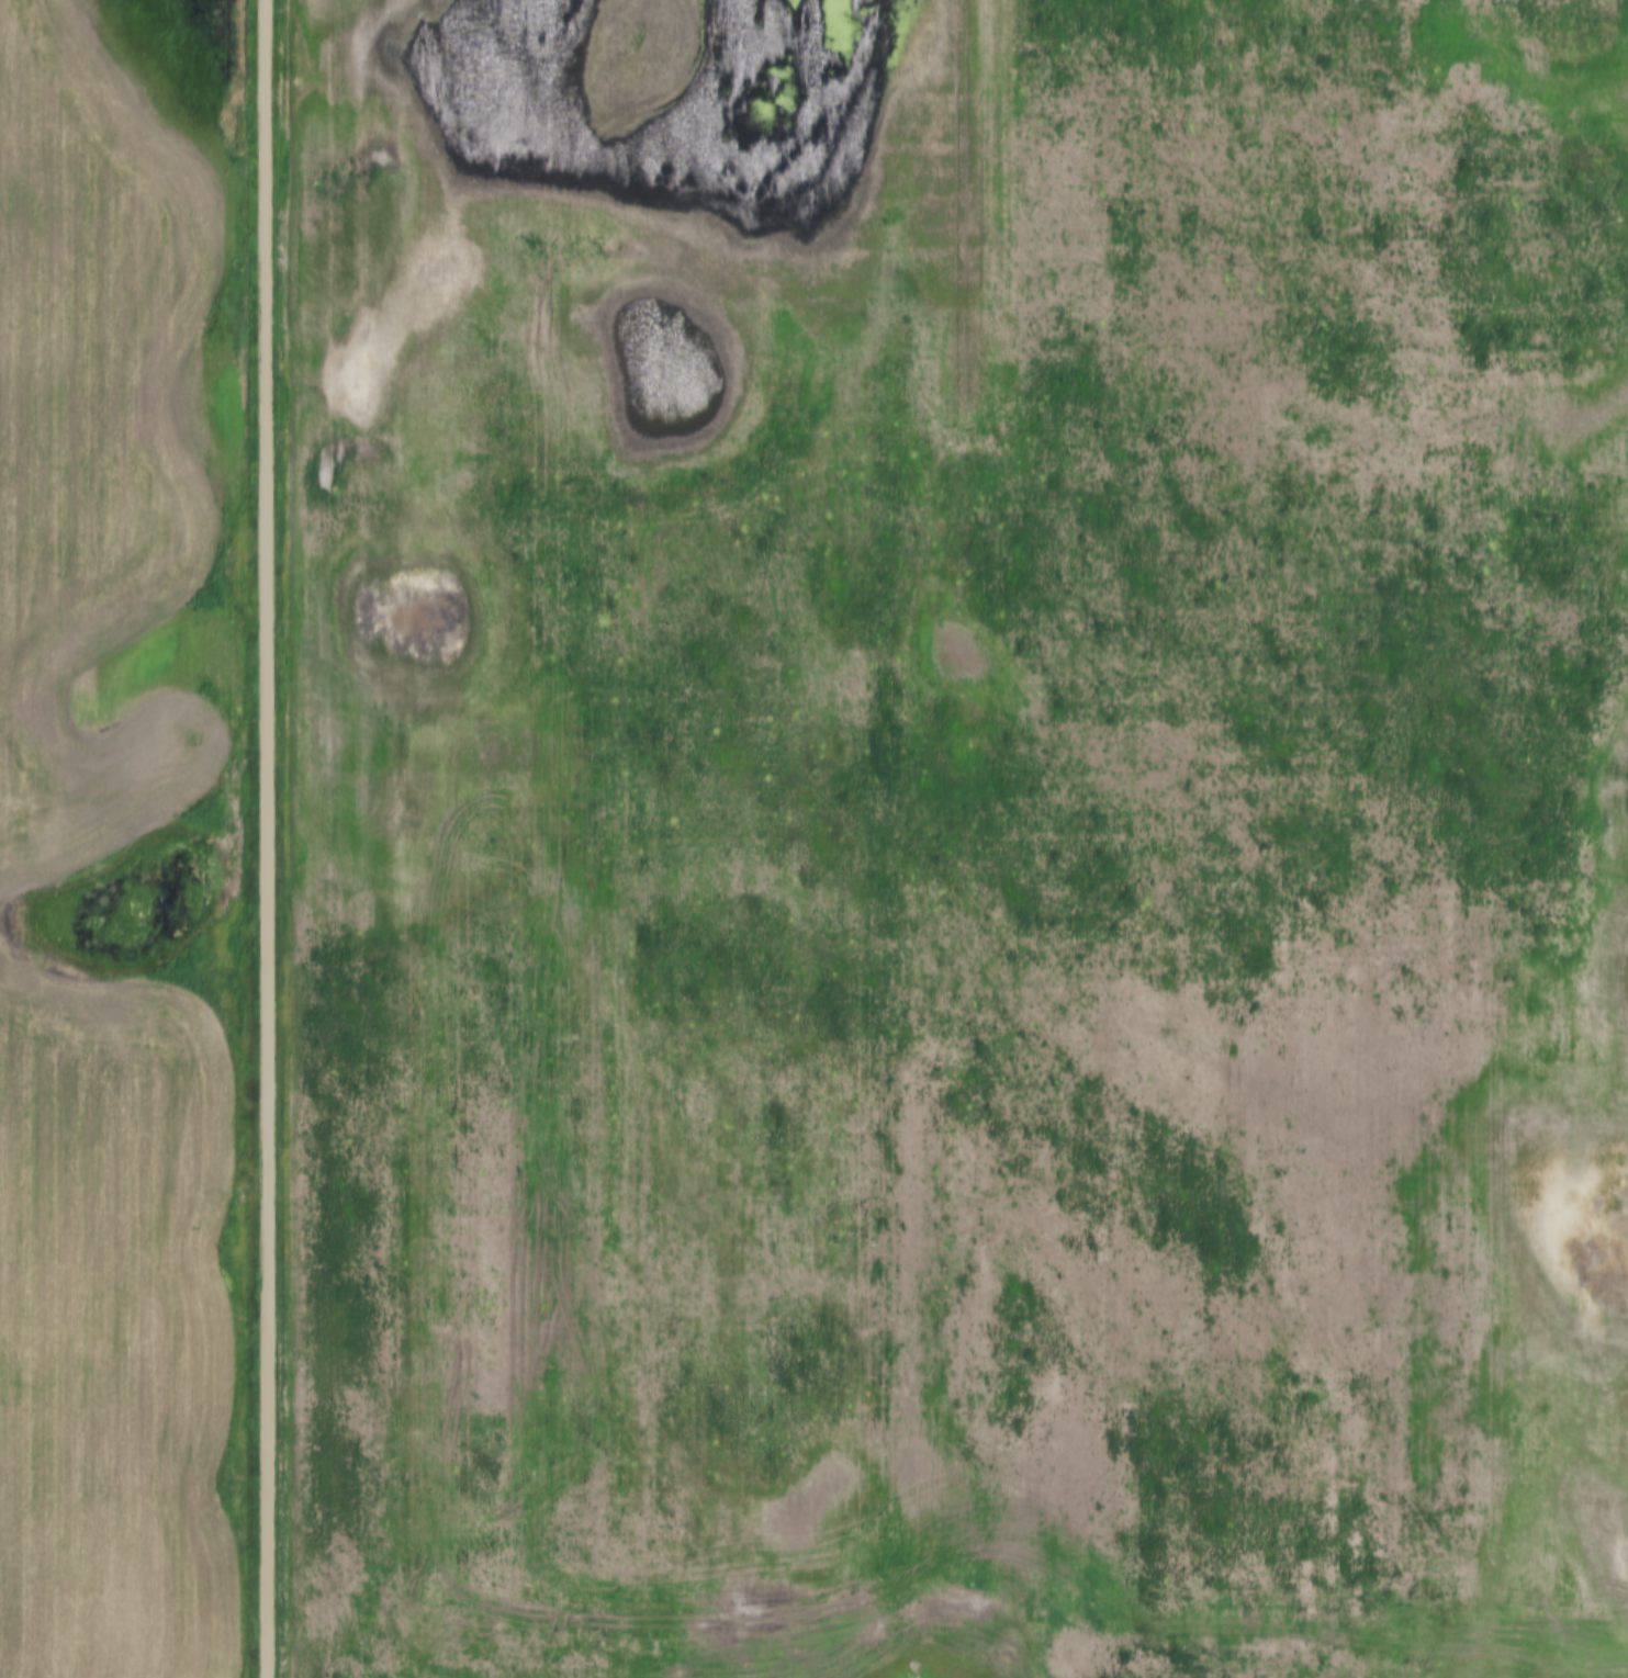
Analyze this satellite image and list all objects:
road: (272, 838)

